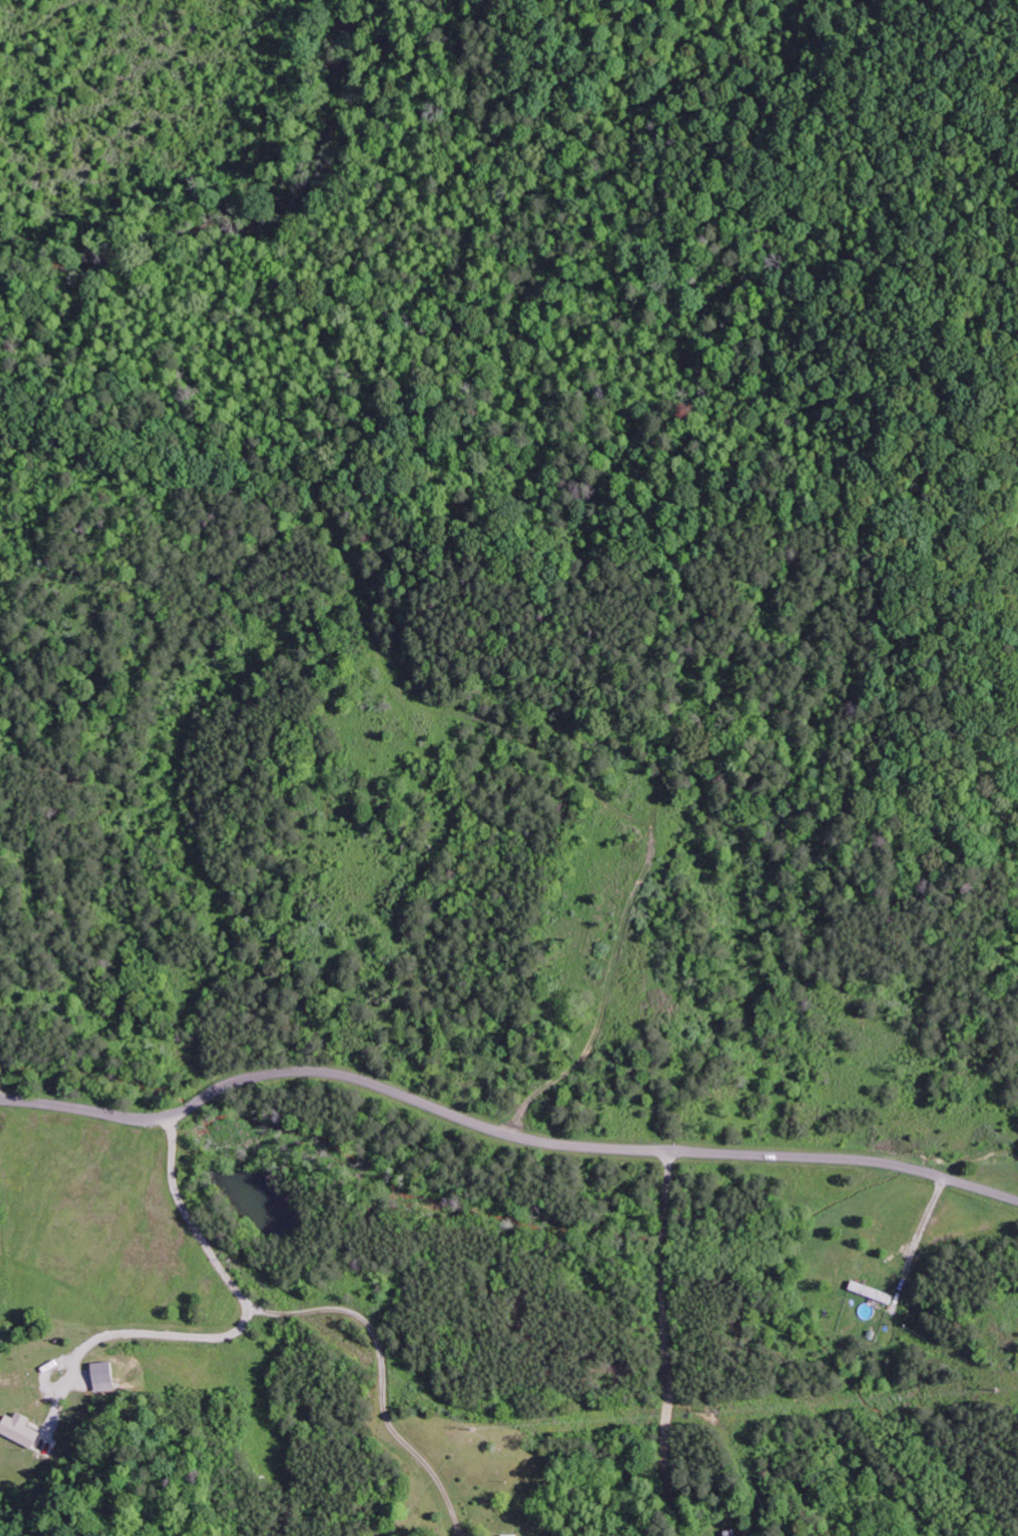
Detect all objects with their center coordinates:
road: (501, 1134)
building: (109, 1376)
building: (32, 1433)
building: (514, 1535)

